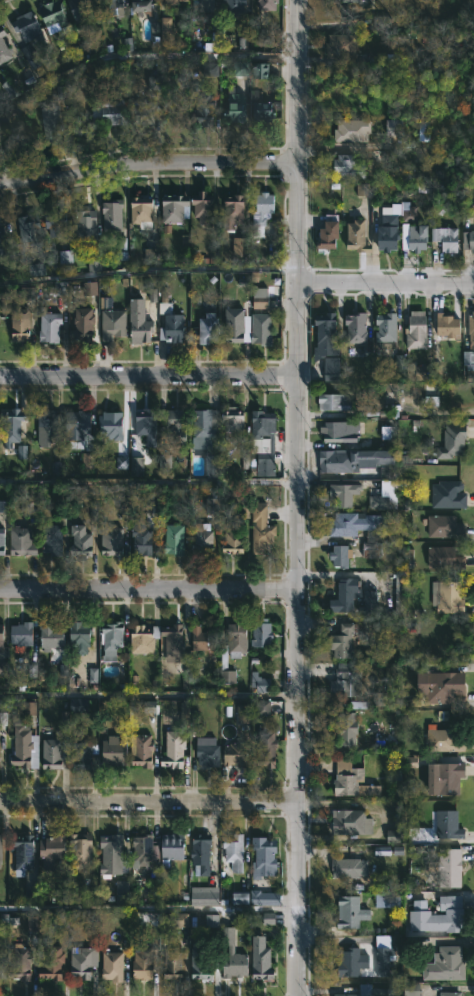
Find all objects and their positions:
building: (349, 0)
building: (171, 2)
building: (269, 4)
building: (142, 5)
building: (203, 5)
building: (112, 6)
building: (236, 6)
building: (81, 10)
building: (53, 14)
building: (381, 23)
building: (27, 26)
building: (165, 29)
building: (340, 45)
building: (3, 47)
building: (30, 56)
building: (240, 68)
building: (210, 69)
building: (260, 70)
road: (294, 80)
building: (205, 107)
building: (111, 112)
building: (263, 112)
building: (238, 113)
building: (143, 114)
building: (52, 120)
building: (393, 127)
building: (352, 130)
road: (146, 163)
building: (348, 167)
building: (362, 189)
building: (203, 207)
building: (176, 208)
building: (233, 211)
building: (469, 211)
building: (263, 212)
building: (142, 214)
building: (113, 216)
road: (295, 222)
building: (55, 224)
building: (86, 227)
building: (26, 228)
building: (387, 229)
building: (328, 232)
building: (356, 237)
building: (414, 237)
building: (446, 239)
building: (467, 240)
building: (4, 245)
building: (239, 247)
building: (150, 257)
building: (94, 265)
road: (147, 268)
building: (36, 269)
road: (385, 282)
building: (60, 288)
building: (89, 288)
building: (152, 295)
building: (259, 298)
building: (104, 303)
building: (138, 322)
building: (113, 324)
building: (20, 325)
building: (81, 325)
building: (236, 325)
building: (447, 325)
building: (357, 326)
building: (50, 328)
building: (172, 328)
building: (471, 328)
building: (207, 329)
building: (387, 329)
building: (262, 330)
building: (415, 331)
building: (327, 345)
building: (468, 361)
building: (418, 373)
road: (149, 381)
building: (432, 391)
building: (334, 401)
building: (234, 419)
building: (174, 421)
building: (12, 424)
building: (78, 424)
building: (111, 424)
building: (147, 424)
building: (48, 425)
building: (205, 427)
building: (339, 431)
building: (272, 441)
building: (453, 441)
building: (21, 452)
building: (353, 459)
building: (166, 464)
building: (212, 465)
building: (136, 466)
building: (345, 493)
building: (448, 494)
building: (384, 495)
building: (214, 505)
building: (3, 506)
building: (357, 524)
building: (146, 525)
building: (445, 527)
building: (262, 528)
building: (52, 538)
building: (175, 538)
building: (202, 538)
building: (112, 539)
building: (1, 540)
building: (81, 540)
building: (22, 542)
building: (232, 542)
building: (340, 555)
building: (445, 558)
road: (149, 595)
building: (345, 595)
building: (399, 596)
building: (448, 596)
building: (369, 602)
building: (22, 633)
building: (262, 633)
building: (1, 635)
building: (81, 635)
building: (50, 636)
building: (144, 638)
building: (112, 639)
building: (204, 639)
building: (237, 639)
road: (298, 639)
building: (345, 640)
building: (174, 642)
building: (3, 666)
building: (226, 667)
building: (347, 679)
building: (259, 683)
building: (443, 686)
road: (149, 695)
building: (78, 705)
building: (150, 707)
building: (262, 707)
building: (242, 714)
building: (348, 729)
building: (25, 739)
building: (444, 740)
building: (266, 749)
building: (141, 750)
building: (174, 750)
building: (114, 751)
building: (208, 751)
building: (55, 753)
building: (84, 755)
building: (236, 755)
building: (449, 777)
building: (349, 782)
road: (148, 808)
building: (352, 822)
building: (448, 825)
building: (392, 836)
building: (174, 846)
building: (143, 847)
building: (1, 849)
building: (51, 850)
building: (23, 851)
building: (82, 851)
building: (233, 851)
building: (201, 853)
building: (113, 856)
building: (264, 856)
building: (349, 867)
building: (450, 867)
building: (121, 889)
building: (204, 896)
building: (239, 898)
building: (265, 898)
building: (387, 900)
road: (148, 908)
building: (351, 912)
building: (441, 916)
building: (268, 918)
building: (181, 919)
building: (210, 920)
building: (232, 955)
building: (382, 955)
building: (261, 959)
building: (83, 961)
building: (142, 962)
building: (202, 962)
building: (352, 962)
building: (22, 963)
building: (53, 963)
building: (2, 965)
building: (446, 965)
building: (173, 966)
building: (112, 967)
building: (410, 989)
building: (372, 991)
building: (450, 994)

